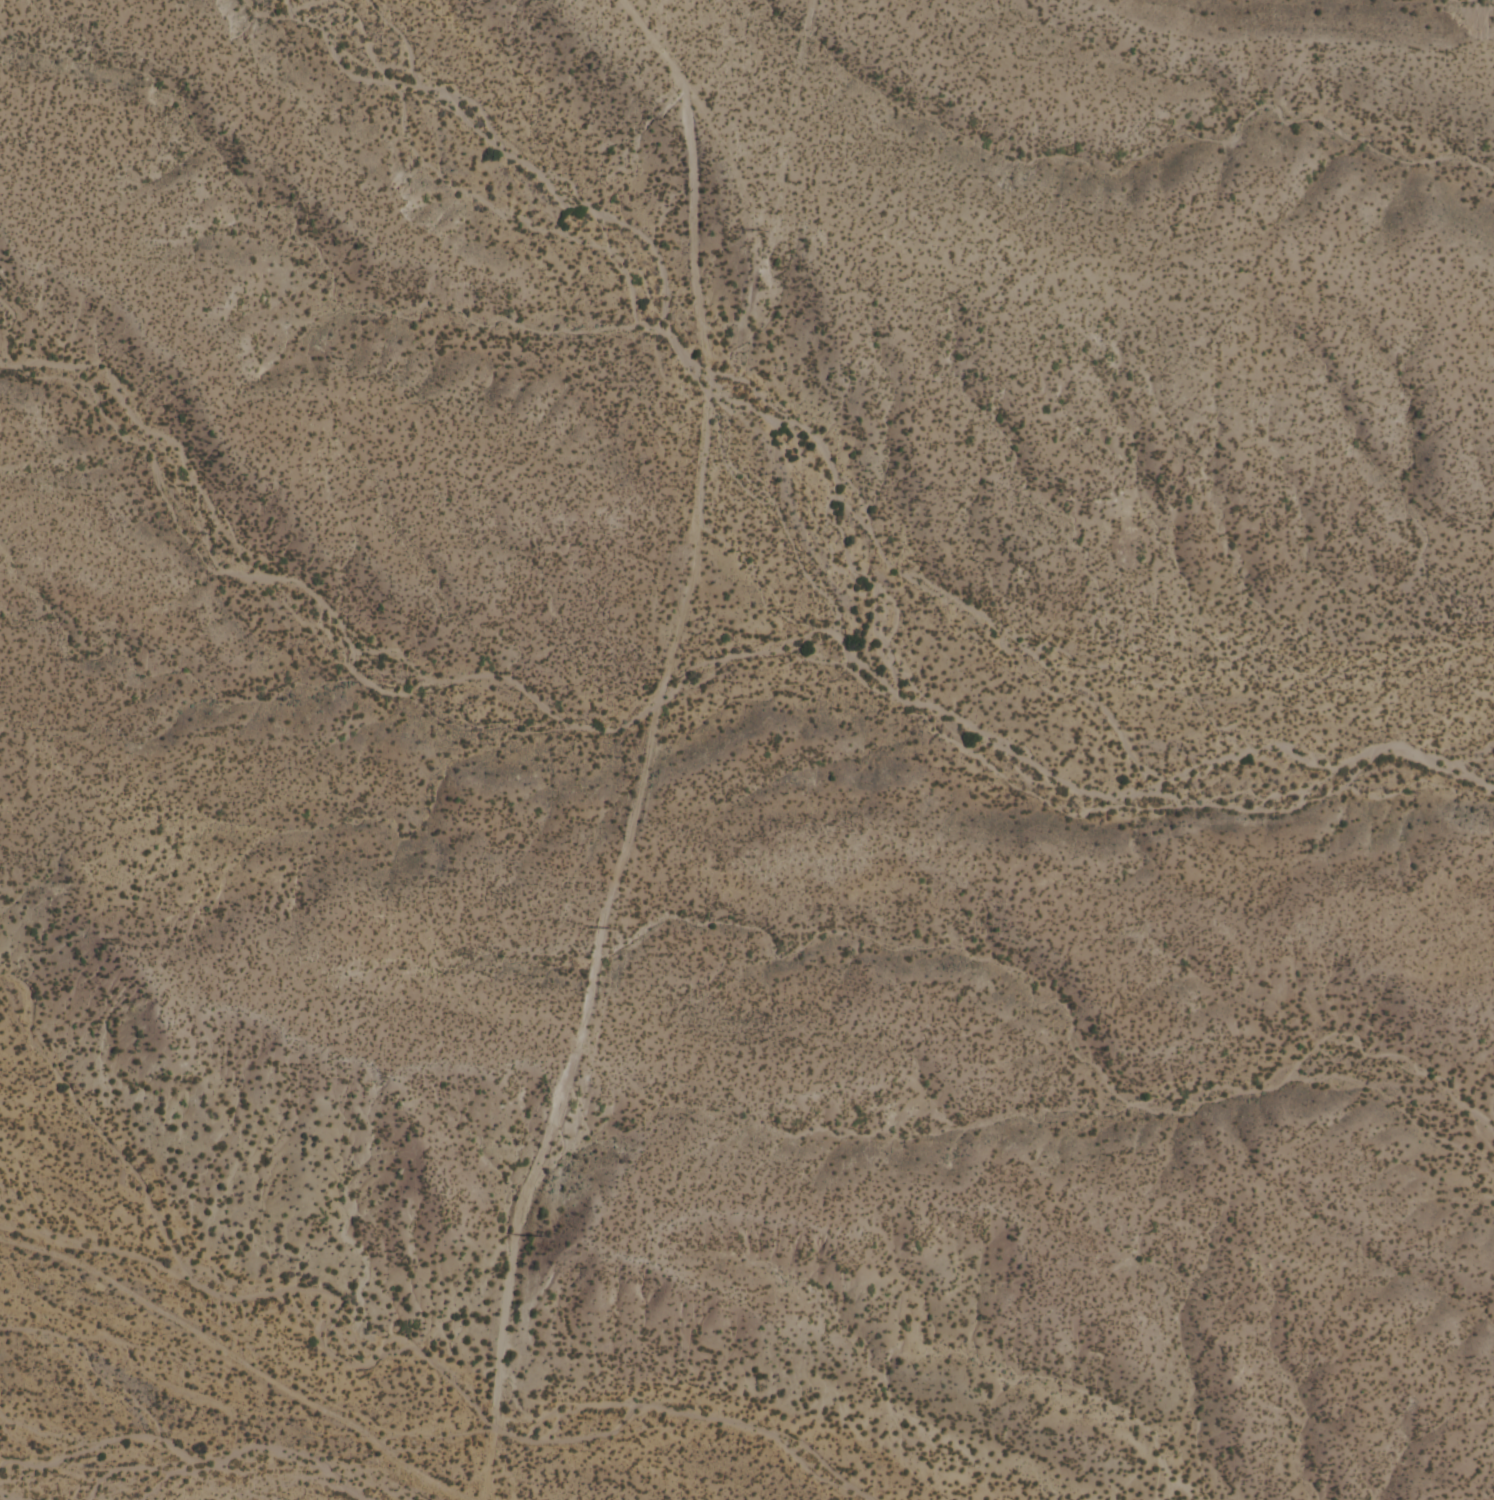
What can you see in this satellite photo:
road: (645, 748)
road: (237, 1360)

